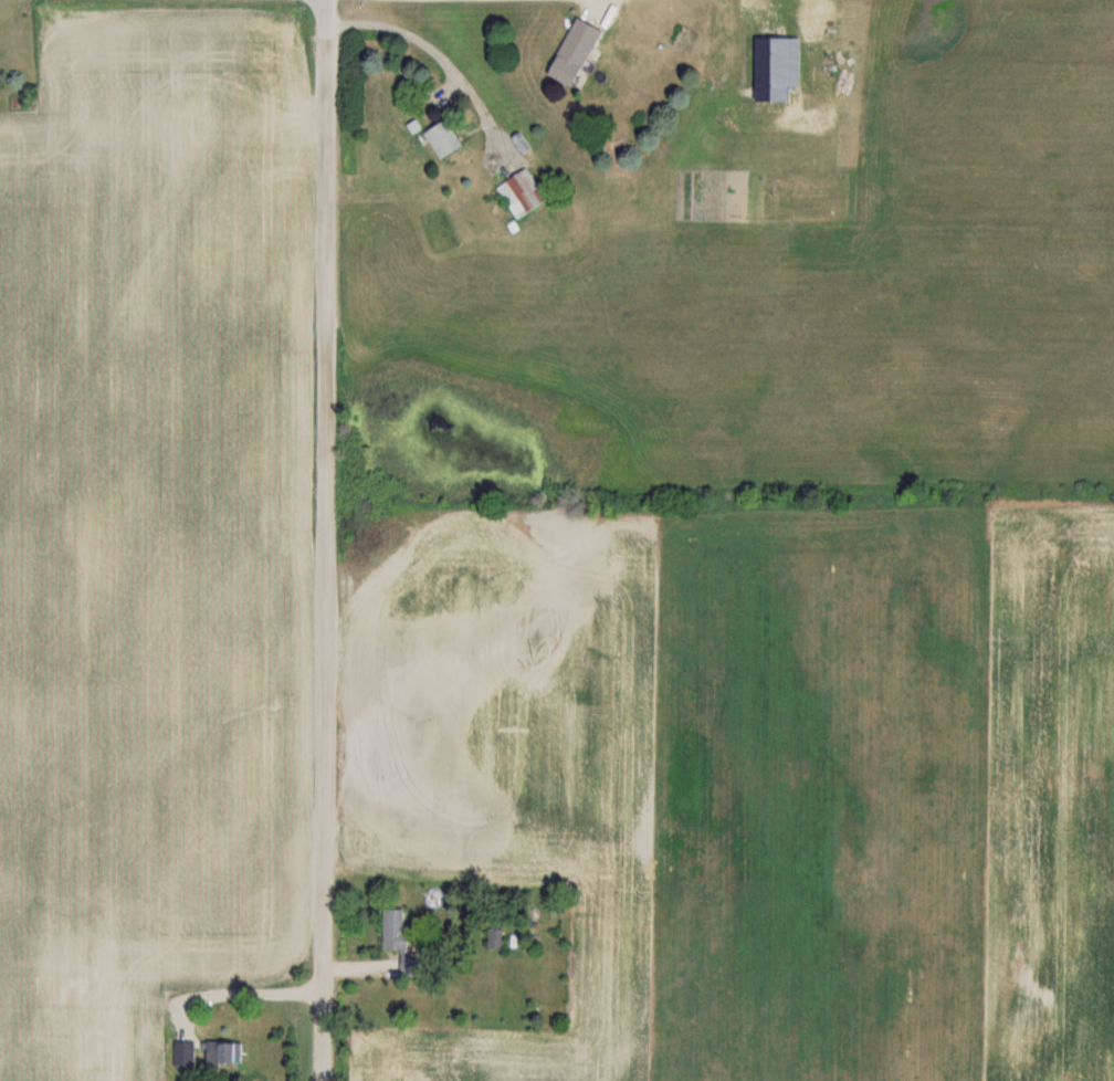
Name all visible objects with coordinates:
road: (593, 1)
building: (569, 51)
road: (438, 60)
building: (440, 138)
building: (521, 193)
road: (325, 540)
building: (392, 927)
road: (238, 991)
building: (220, 1052)

